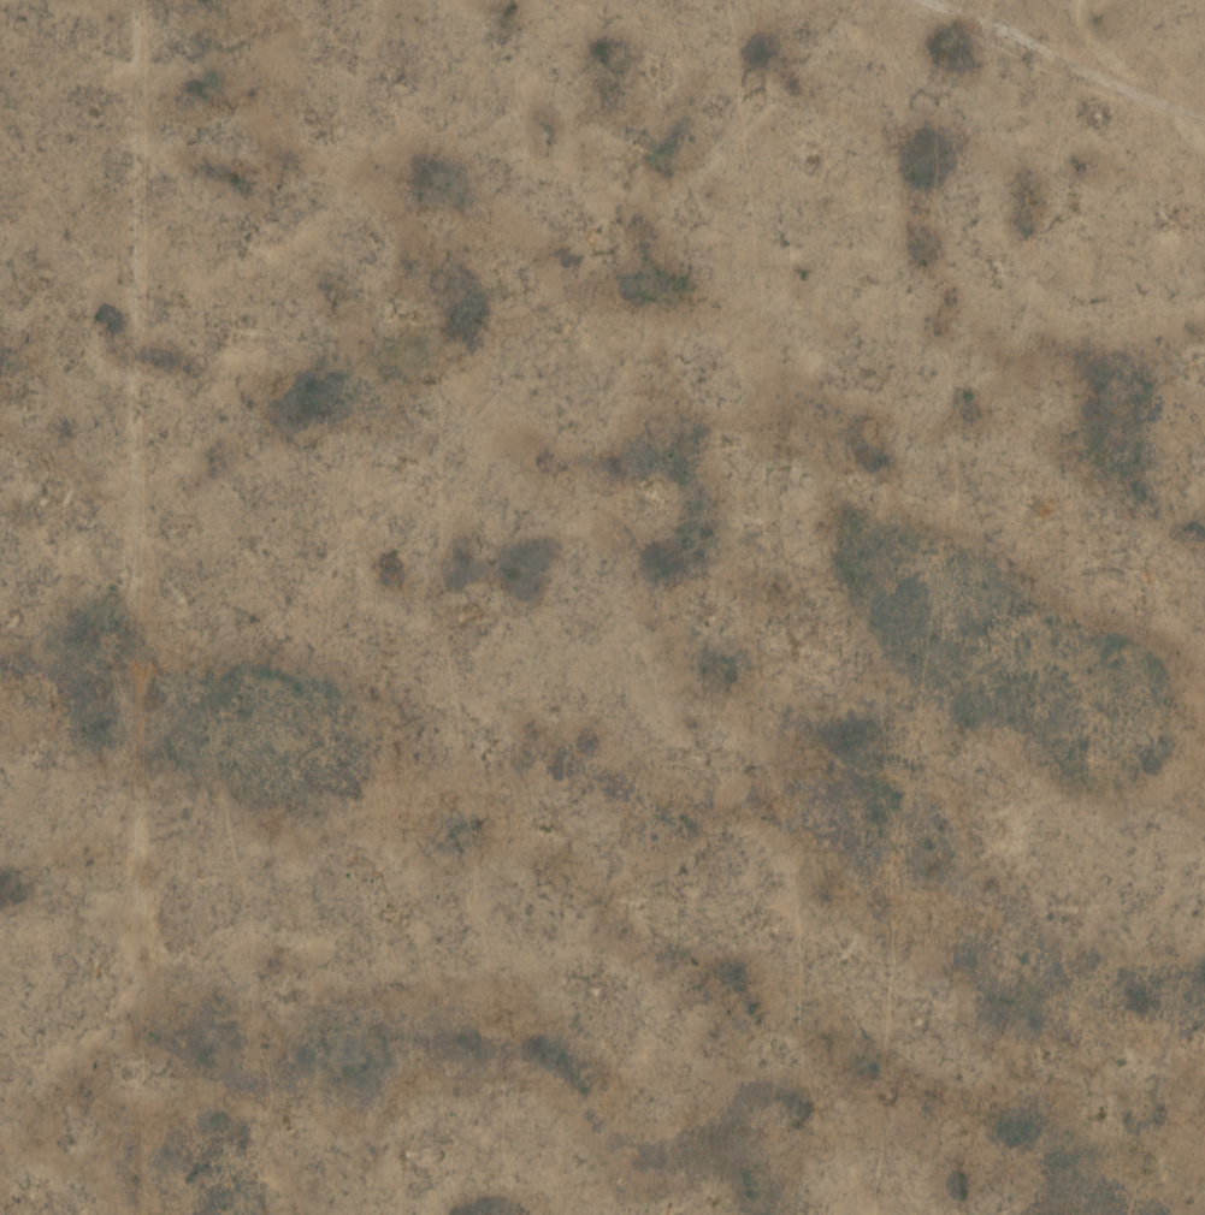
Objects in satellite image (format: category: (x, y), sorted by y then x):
road: (1146, 25)
road: (150, 607)

